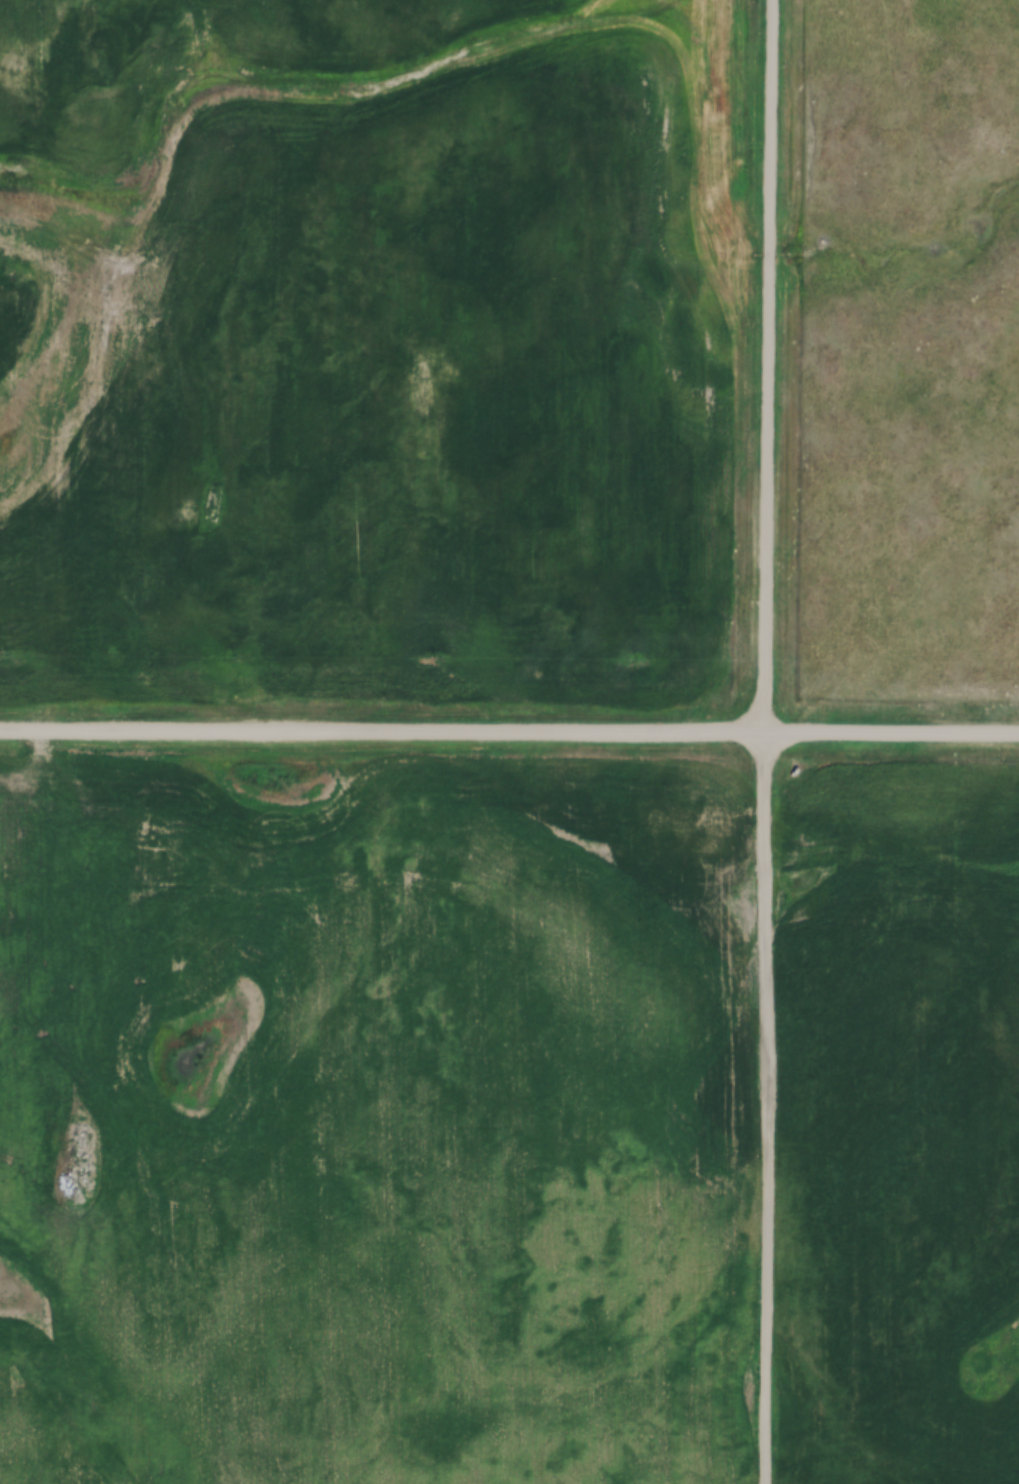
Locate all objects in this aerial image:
road: (770, 366)
road: (509, 732)
road: (767, 1108)

